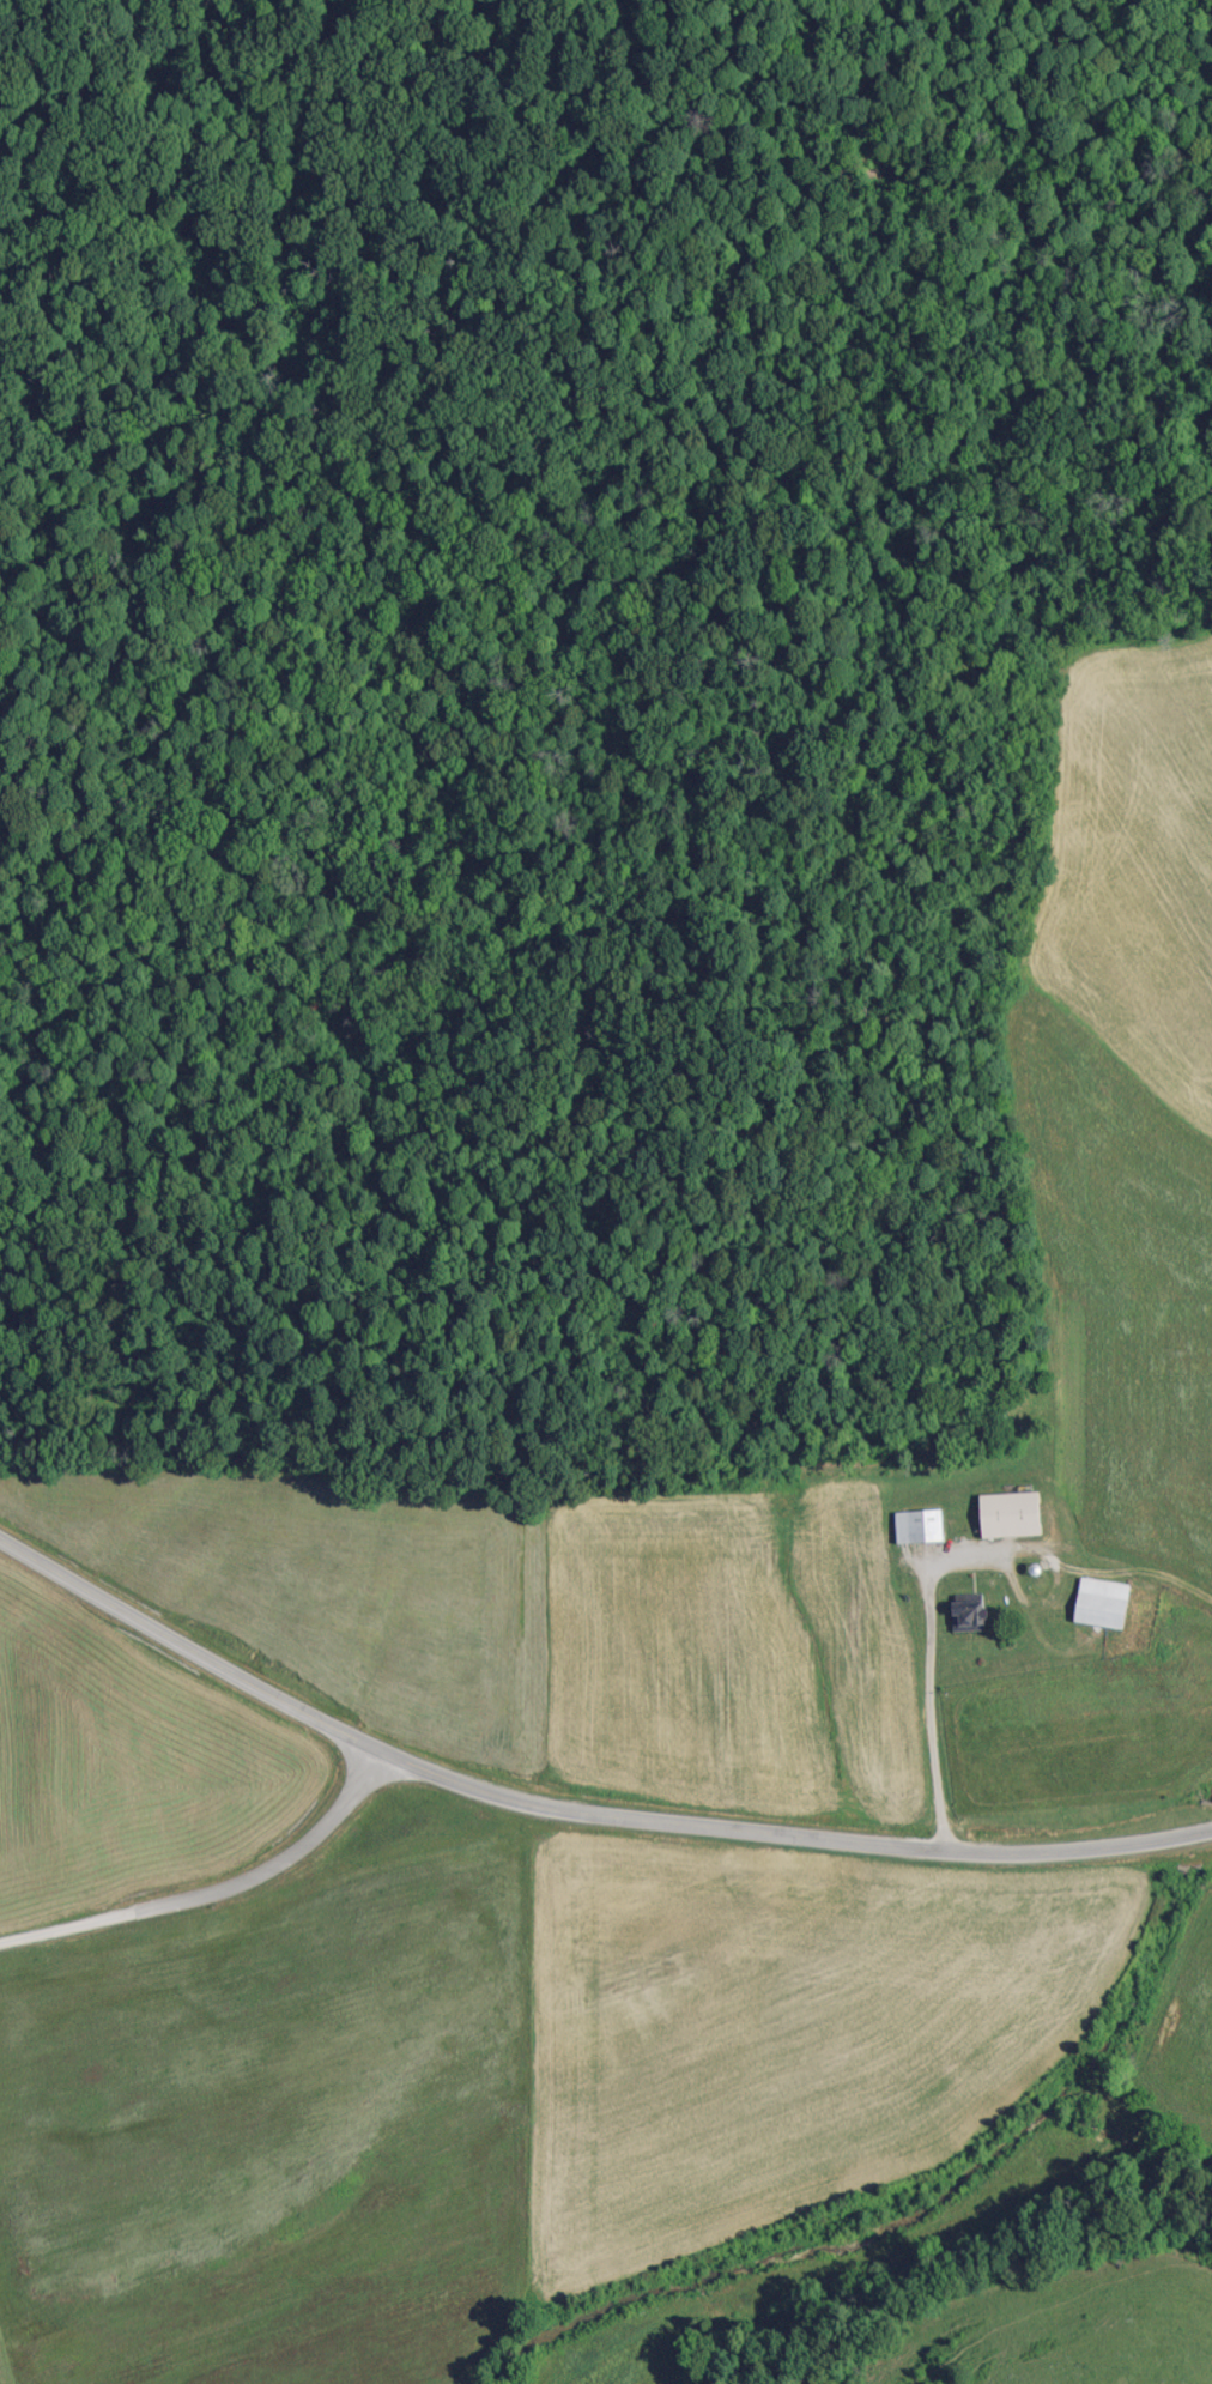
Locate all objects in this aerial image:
building: (1011, 1513)
building: (919, 1525)
building: (1104, 1601)
building: (970, 1611)
road: (260, 1687)
road: (946, 1711)
road: (874, 1845)
road: (273, 1860)
road: (68, 1925)

